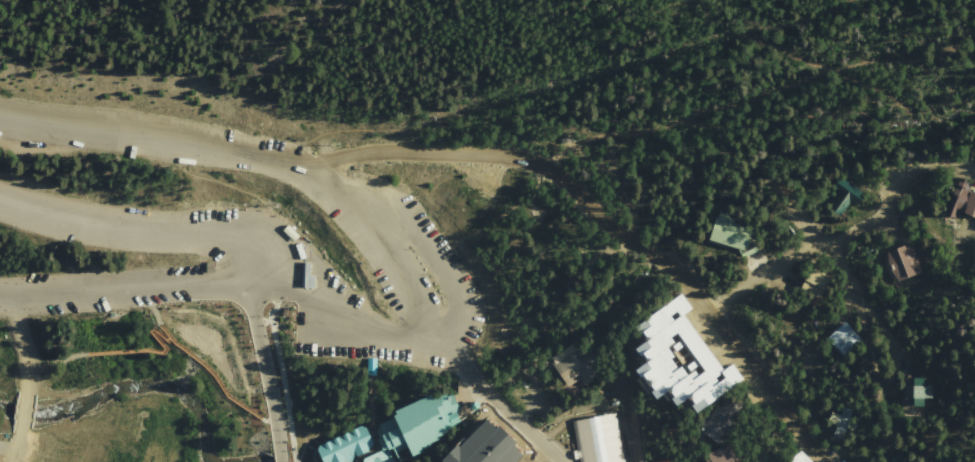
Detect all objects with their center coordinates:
road: (667, 124)
building: (564, 139)
road: (334, 197)
building: (844, 199)
building: (963, 207)
parking lot: (375, 224)
road: (606, 225)
road: (169, 229)
building: (292, 231)
road: (847, 234)
building: (737, 241)
building: (903, 263)
road: (442, 264)
building: (212, 267)
parking lot: (231, 269)
building: (308, 273)
road: (227, 284)
building: (815, 284)
parking lot: (114, 290)
road: (876, 304)
road: (153, 306)
building: (112, 314)
road: (263, 322)
building: (485, 325)
road: (166, 330)
road: (171, 337)
building: (845, 341)
road: (25, 343)
building: (319, 350)
road: (42, 353)
building: (679, 360)
building: (574, 368)
road: (265, 372)
building: (376, 373)
road: (281, 376)
building: (511, 390)
building: (919, 393)
road: (371, 409)
road: (25, 414)
building: (846, 421)
road: (275, 424)
road: (287, 424)
building: (719, 424)
building: (416, 428)
building: (602, 438)
ski resort: (40, 444)
building: (345, 446)
building: (499, 447)
road: (16, 448)
road: (541, 452)
building: (723, 454)
building: (902, 457)
building: (800, 458)
building: (665, 461)

